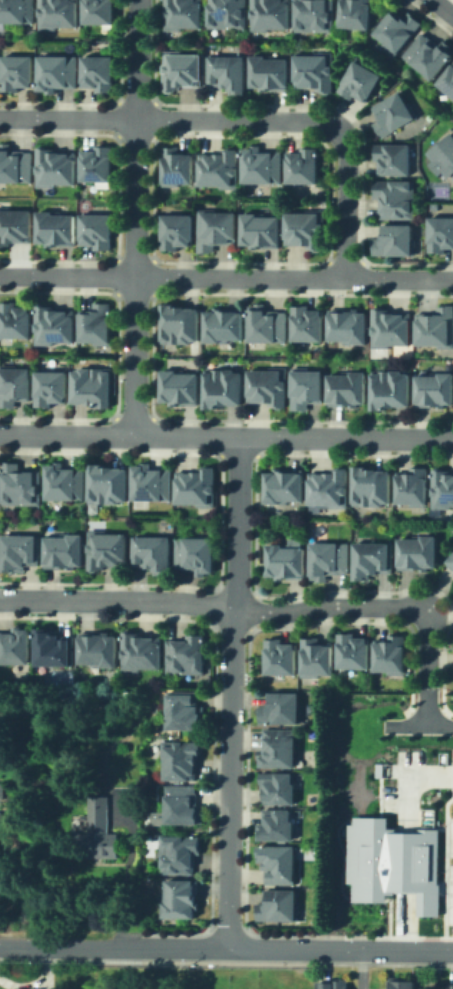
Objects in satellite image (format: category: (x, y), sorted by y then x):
road: (443, 8)
building: (16, 9)
building: (100, 9)
building: (58, 11)
building: (183, 12)
building: (271, 12)
building: (316, 12)
building: (357, 12)
building: (228, 13)
building: (399, 25)
building: (429, 50)
building: (184, 65)
building: (18, 67)
building: (58, 67)
building: (101, 67)
building: (228, 67)
building: (274, 67)
building: (315, 67)
building: (361, 77)
building: (448, 77)
building: (395, 110)
road: (67, 117)
road: (312, 118)
building: (443, 152)
building: (395, 154)
building: (99, 158)
building: (305, 160)
building: (178, 161)
building: (262, 161)
building: (57, 162)
building: (14, 163)
building: (221, 165)
building: (395, 194)
road: (133, 217)
building: (217, 224)
building: (99, 225)
building: (178, 225)
building: (265, 225)
building: (307, 225)
building: (16, 227)
building: (56, 228)
building: (442, 229)
building: (396, 237)
road: (226, 275)
building: (181, 319)
building: (308, 319)
building: (14, 320)
building: (225, 320)
building: (267, 321)
building: (350, 322)
building: (394, 322)
building: (437, 322)
building: (53, 326)
building: (96, 326)
building: (181, 379)
building: (269, 383)
building: (225, 384)
building: (308, 384)
building: (350, 384)
building: (393, 385)
building: (92, 386)
building: (436, 386)
building: (13, 387)
building: (50, 388)
road: (226, 435)
building: (415, 480)
building: (152, 481)
building: (374, 481)
building: (66, 482)
building: (286, 482)
building: (331, 482)
building: (444, 484)
building: (20, 485)
building: (108, 485)
building: (197, 485)
building: (421, 548)
building: (106, 550)
building: (63, 551)
building: (20, 553)
building: (194, 553)
building: (152, 554)
building: (374, 554)
building: (331, 555)
building: (452, 557)
building: (290, 558)
road: (210, 605)
road: (436, 607)
building: (14, 646)
building: (355, 647)
building: (55, 648)
building: (98, 650)
building: (394, 650)
building: (139, 653)
building: (185, 655)
building: (319, 655)
building: (280, 658)
road: (427, 667)
road: (229, 690)
building: (283, 708)
building: (187, 713)
road: (419, 725)
building: (279, 747)
building: (181, 759)
road: (407, 782)
parking lot: (403, 783)
building: (278, 787)
building: (4, 790)
building: (182, 805)
building: (277, 825)
building: (3, 826)
building: (98, 832)
parking lot: (449, 836)
building: (180, 854)
road: (406, 861)
building: (390, 862)
building: (280, 864)
parking lot: (449, 893)
building: (182, 898)
building: (280, 906)
road: (407, 921)
road: (66, 944)
road: (293, 947)
road: (359, 969)
building: (401, 984)
building: (334, 985)
building: (451, 986)

